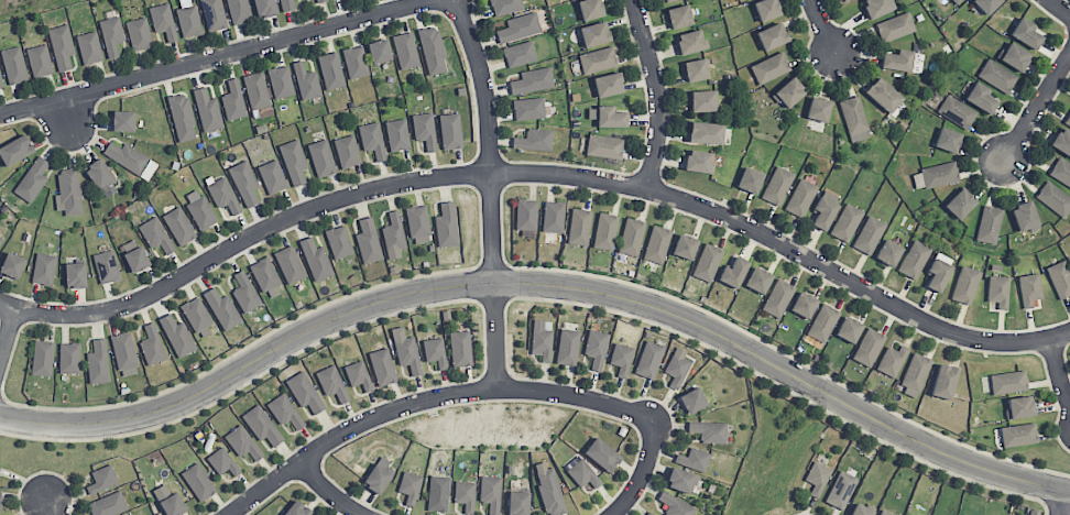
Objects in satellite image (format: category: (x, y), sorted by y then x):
building: (320, 0)
building: (667, 0)
building: (738, 0)
building: (844, 0)
building: (957, 1)
building: (287, 4)
building: (986, 4)
building: (505, 6)
building: (877, 7)
building: (265, 8)
road: (1059, 8)
building: (590, 9)
building: (766, 9)
building: (238, 11)
building: (214, 14)
building: (678, 17)
building: (188, 19)
building: (163, 21)
road: (821, 25)
building: (518, 26)
building: (894, 26)
building: (1025, 33)
building: (111, 34)
building: (139, 34)
building: (594, 34)
building: (772, 35)
building: (690, 41)
building: (62, 45)
building: (89, 47)
building: (405, 50)
building: (379, 51)
building: (433, 51)
building: (520, 53)
road: (210, 56)
building: (1013, 56)
building: (39, 59)
building: (598, 59)
building: (897, 59)
building: (354, 62)
building: (13, 65)
building: (769, 67)
building: (696, 69)
building: (330, 70)
building: (997, 75)
building: (532, 80)
building: (281, 81)
building: (306, 81)
building: (1, 83)
building: (608, 85)
road: (656, 91)
building: (789, 92)
building: (258, 95)
building: (883, 95)
building: (981, 98)
building: (233, 100)
building: (702, 100)
road: (1037, 106)
building: (528, 108)
building: (818, 109)
building: (207, 110)
road: (67, 111)
building: (956, 111)
building: (182, 117)
building: (607, 117)
building: (854, 119)
building: (123, 120)
building: (1068, 122)
building: (424, 130)
building: (450, 131)
building: (706, 132)
building: (397, 134)
building: (947, 139)
building: (372, 140)
building: (534, 140)
building: (1061, 141)
building: (604, 146)
building: (15, 150)
building: (347, 151)
building: (321, 157)
building: (130, 158)
building: (293, 161)
building: (698, 161)
road: (537, 172)
building: (1061, 172)
building: (99, 173)
building: (272, 176)
building: (32, 179)
building: (750, 180)
building: (244, 183)
building: (777, 185)
road: (489, 190)
building: (68, 191)
building: (223, 195)
building: (800, 197)
building: (1053, 198)
building: (959, 204)
building: (199, 209)
building: (823, 212)
building: (526, 213)
building: (553, 216)
building: (1025, 216)
building: (845, 222)
building: (418, 223)
building: (446, 224)
building: (989, 224)
building: (178, 226)
building: (578, 227)
building: (605, 230)
building: (155, 234)
building: (869, 234)
building: (393, 235)
building: (631, 237)
building: (1, 240)
building: (368, 240)
building: (338, 241)
building: (656, 244)
building: (685, 246)
building: (888, 252)
building: (133, 255)
building: (316, 259)
building: (914, 259)
building: (12, 262)
building: (707, 262)
building: (290, 264)
building: (106, 266)
building: (44, 269)
building: (938, 271)
building: (733, 272)
building: (75, 274)
building: (266, 277)
building: (1059, 278)
building: (757, 280)
road: (541, 283)
building: (964, 284)
building: (1029, 288)
building: (997, 291)
building: (244, 292)
building: (778, 297)
building: (804, 305)
building: (222, 308)
building: (197, 316)
building: (823, 322)
road: (7, 329)
building: (849, 329)
building: (177, 336)
building: (541, 340)
building: (152, 344)
building: (567, 347)
building: (869, 347)
building: (460, 348)
building: (596, 348)
building: (405, 350)
building: (434, 351)
building: (124, 353)
building: (42, 358)
building: (69, 358)
building: (621, 359)
building: (649, 359)
building: (892, 360)
building: (98, 362)
building: (382, 366)
building: (677, 368)
road: (1057, 371)
building: (915, 374)
building: (358, 375)
building: (943, 381)
building: (1008, 381)
building: (331, 383)
building: (304, 392)
road: (425, 398)
building: (692, 399)
building: (1019, 406)
building: (284, 410)
building: (262, 426)
building: (709, 430)
building: (1018, 435)
building: (242, 442)
building: (601, 454)
building: (694, 458)
building: (222, 461)
building: (383, 462)
road: (642, 469)
building: (582, 473)
building: (817, 478)
building: (102, 479)
building: (376, 479)
building: (680, 480)
building: (198, 482)
building: (410, 486)
building: (548, 487)
building: (841, 490)
road: (328, 491)
building: (438, 493)
building: (491, 493)
building: (465, 495)
building: (168, 501)
building: (0, 502)
road: (1062, 502)
building: (517, 503)
building: (108, 504)
building: (675, 505)
road: (51, 506)
building: (296, 508)
building: (861, 509)
building: (649, 513)
building: (885, 513)
building: (6, 514)

